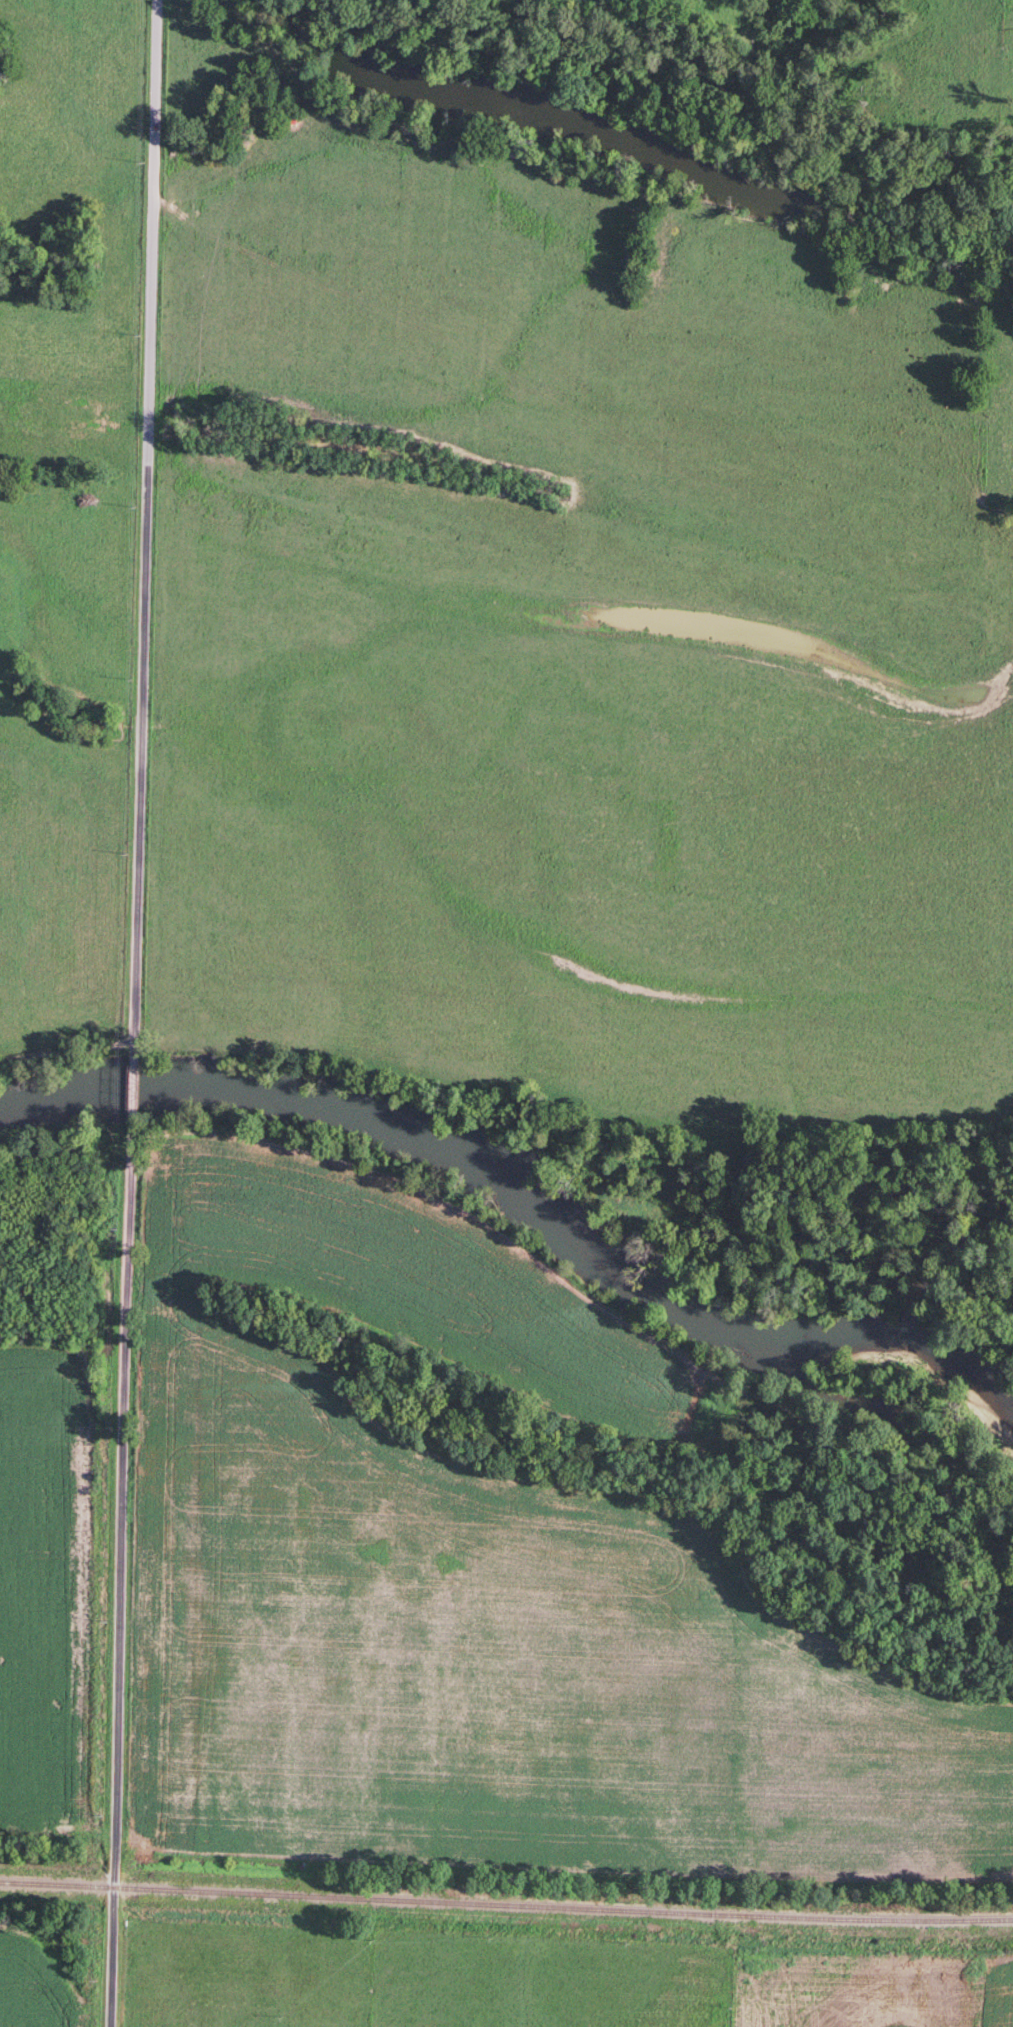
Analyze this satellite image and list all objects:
road: (144, 526)
road: (132, 1087)
road: (121, 1574)
railway: (506, 1903)

